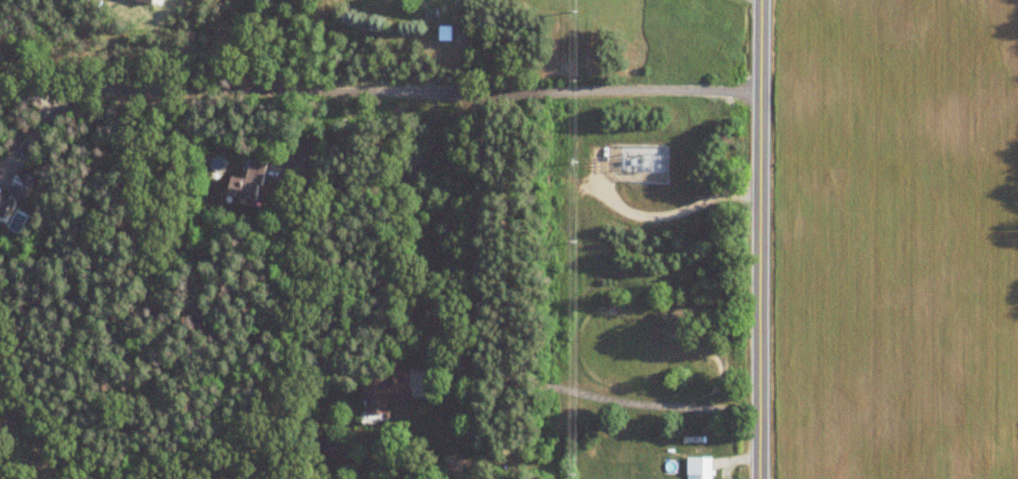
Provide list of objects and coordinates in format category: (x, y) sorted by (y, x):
road: (529, 93)
road: (279, 95)
building: (247, 184)
road: (761, 239)
building: (383, 392)
road: (635, 401)
building: (699, 468)

